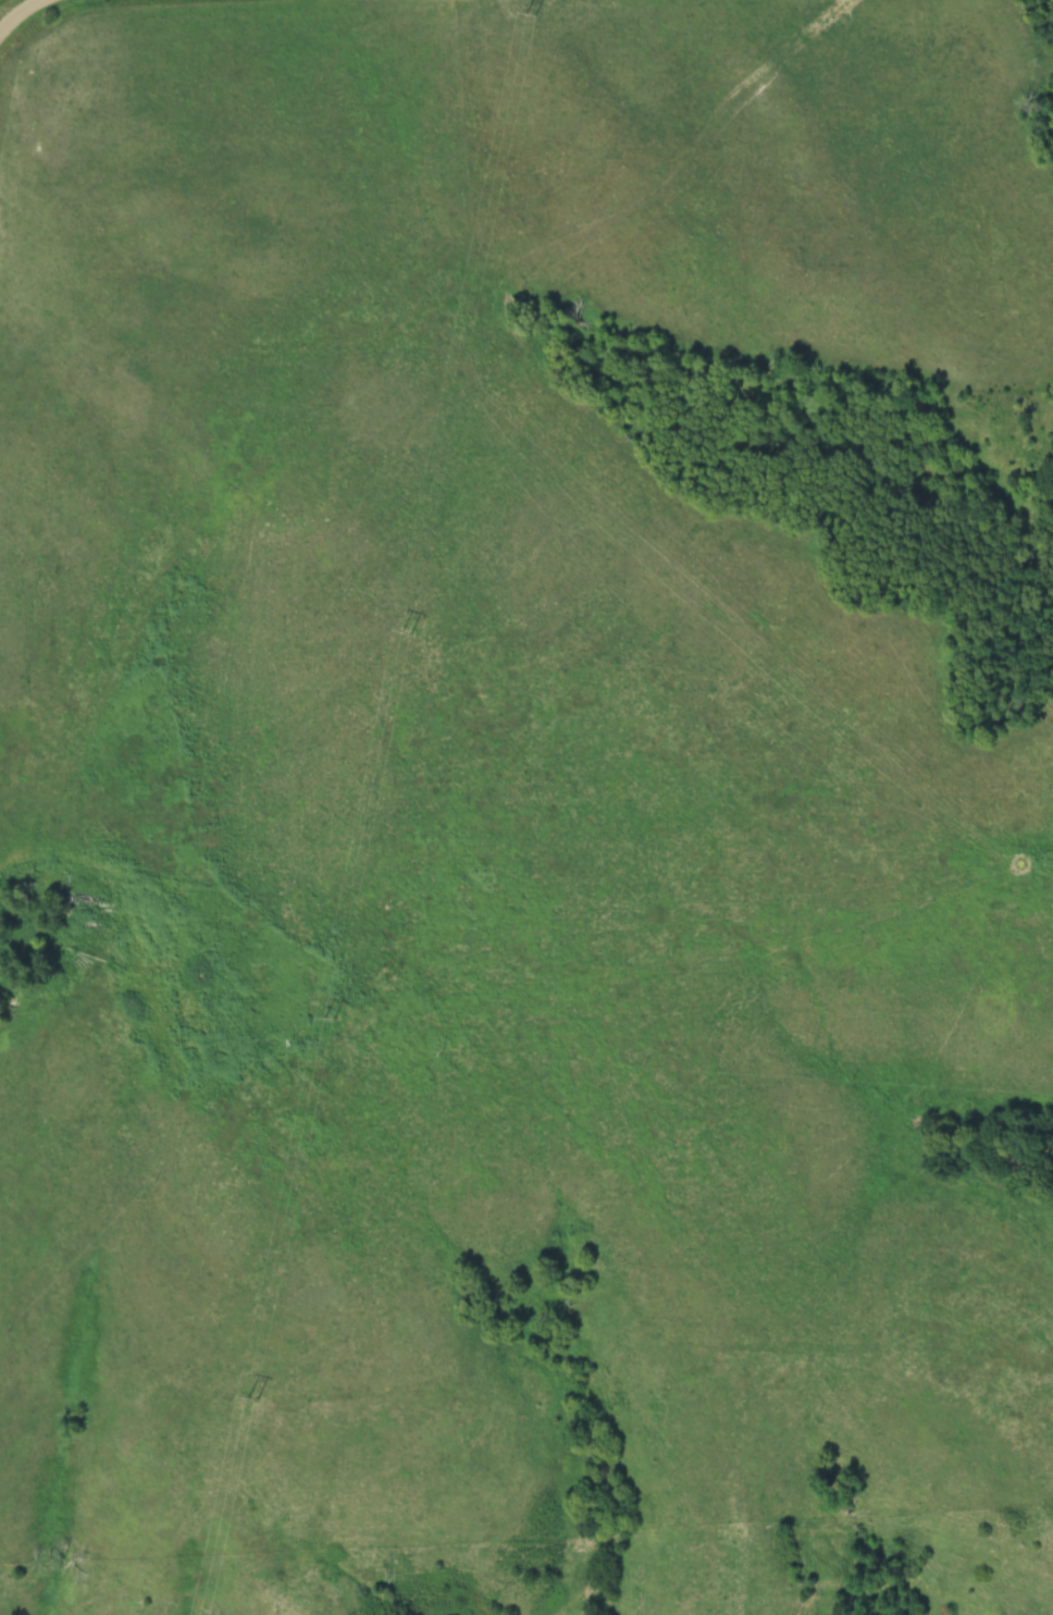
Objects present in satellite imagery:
power tower: (531, 12)
road: (35, 24)
power tower: (407, 630)
power tower: (327, 1016)
power tower: (253, 1396)

